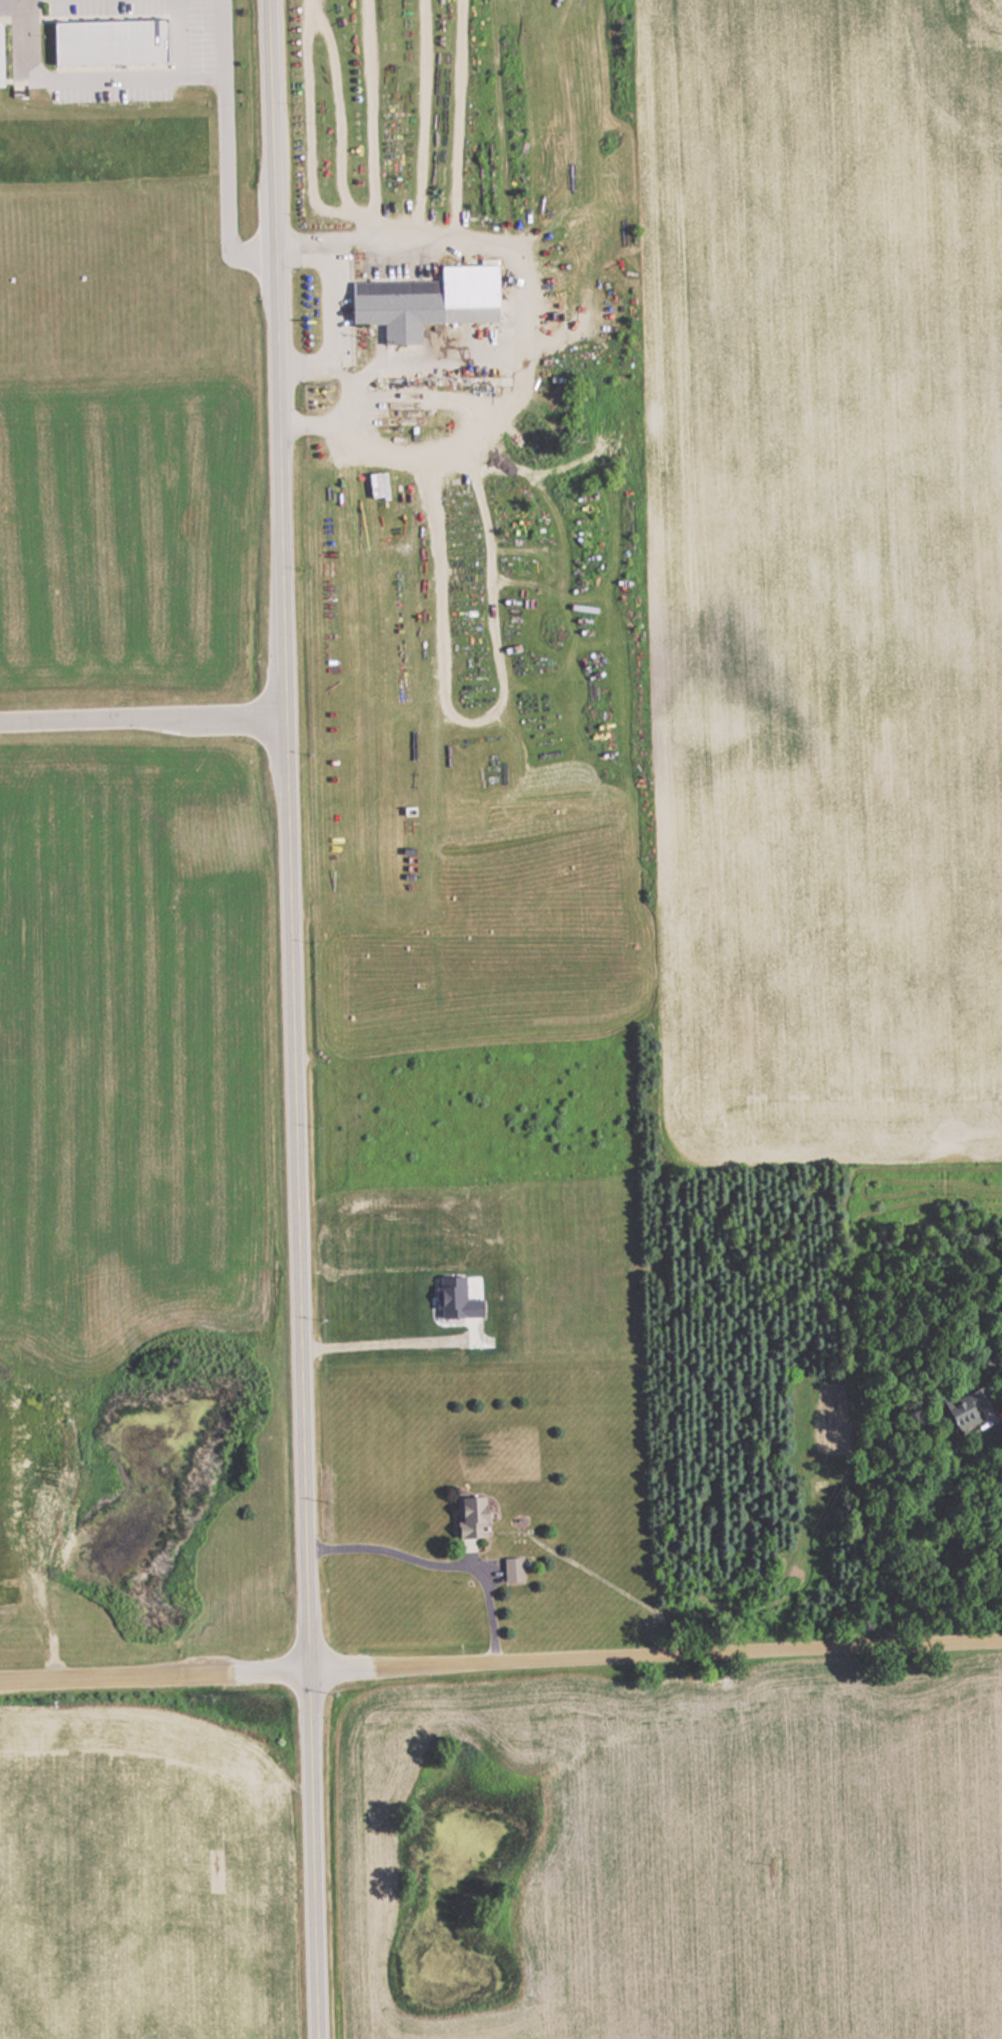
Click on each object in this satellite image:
building: (108, 41)
building: (0, 63)
building: (426, 301)
building: (377, 486)
road: (141, 714)
road: (291, 1019)
building: (971, 1407)
building: (470, 1515)
building: (512, 1569)
road: (501, 1658)

